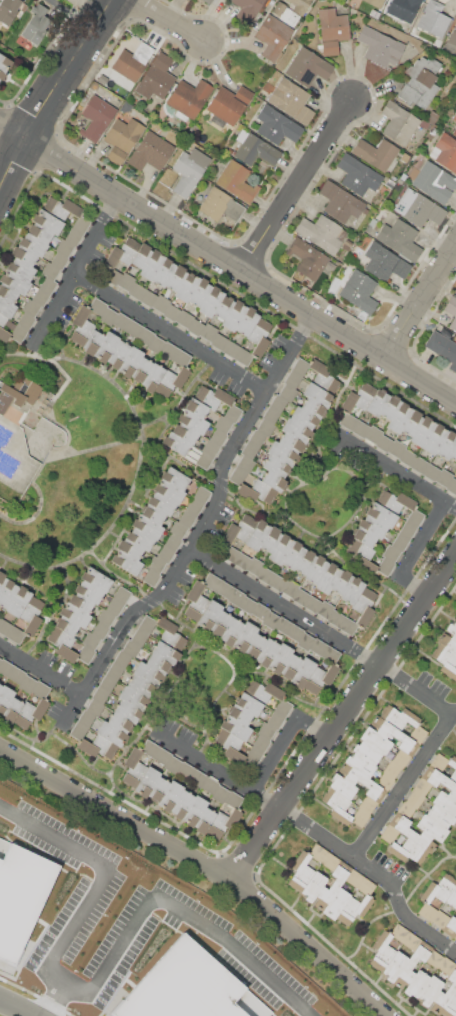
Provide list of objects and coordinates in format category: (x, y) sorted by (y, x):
building: (207, 1)
building: (376, 2)
building: (300, 5)
building: (24, 7)
building: (279, 8)
building: (247, 9)
building: (403, 9)
building: (9, 10)
building: (385, 15)
building: (433, 19)
road: (171, 20)
building: (37, 24)
building: (332, 30)
building: (452, 35)
building: (273, 37)
building: (380, 47)
building: (132, 61)
building: (4, 64)
building: (308, 67)
building: (156, 77)
building: (101, 78)
building: (420, 83)
building: (120, 90)
road: (54, 93)
building: (455, 97)
building: (189, 98)
building: (292, 101)
building: (228, 105)
building: (126, 106)
building: (431, 117)
building: (454, 117)
building: (96, 118)
building: (399, 123)
building: (276, 125)
building: (454, 130)
building: (121, 139)
building: (255, 149)
building: (151, 151)
building: (445, 152)
building: (376, 153)
building: (189, 170)
building: (357, 174)
building: (403, 176)
building: (236, 181)
building: (434, 182)
building: (389, 183)
road: (298, 185)
building: (340, 202)
building: (220, 205)
building: (61, 208)
building: (420, 208)
building: (365, 211)
building: (47, 221)
building: (81, 223)
building: (370, 224)
building: (39, 232)
building: (320, 232)
building: (73, 237)
building: (400, 239)
building: (32, 244)
building: (64, 247)
building: (123, 252)
building: (23, 255)
building: (141, 255)
building: (308, 258)
building: (59, 260)
road: (227, 261)
building: (384, 262)
building: (152, 265)
building: (20, 268)
building: (50, 270)
building: (164, 271)
building: (112, 276)
building: (176, 277)
building: (126, 281)
building: (15, 282)
building: (47, 285)
building: (186, 287)
building: (135, 290)
building: (359, 291)
building: (199, 292)
building: (455, 292)
building: (8, 293)
building: (40, 297)
building: (148, 298)
building: (211, 301)
building: (161, 303)
road: (420, 304)
building: (98, 306)
building: (6, 307)
building: (30, 307)
road: (54, 307)
building: (224, 307)
road: (135, 308)
building: (451, 310)
building: (171, 312)
building: (234, 315)
building: (108, 316)
building: (184, 318)
building: (26, 320)
building: (121, 321)
building: (247, 321)
building: (81, 326)
building: (195, 327)
building: (133, 328)
building: (3, 329)
building: (18, 332)
building: (208, 332)
building: (145, 336)
building: (259, 336)
building: (218, 341)
building: (93, 342)
building: (156, 344)
building: (105, 346)
building: (442, 347)
building: (169, 349)
building: (230, 349)
building: (118, 354)
building: (243, 356)
building: (182, 357)
building: (130, 362)
building: (300, 367)
building: (140, 370)
building: (152, 377)
building: (324, 377)
building: (292, 379)
building: (170, 381)
building: (287, 392)
building: (18, 393)
building: (318, 394)
building: (213, 397)
building: (358, 397)
building: (377, 401)
building: (278, 403)
building: (195, 407)
building: (390, 407)
building: (313, 408)
building: (233, 413)
building: (271, 415)
building: (303, 418)
building: (400, 418)
building: (193, 421)
building: (348, 421)
building: (412, 423)
building: (223, 424)
building: (265, 427)
building: (361, 429)
building: (296, 430)
building: (423, 431)
building: (185, 433)
building: (374, 434)
building: (218, 437)
building: (257, 438)
building: (435, 439)
building: (291, 443)
building: (384, 443)
building: (447, 445)
building: (181, 446)
building: (210, 448)
building: (396, 448)
building: (249, 450)
building: (282, 453)
building: (453, 454)
building: (407, 457)
building: (204, 460)
building: (246, 463)
building: (419, 464)
building: (276, 466)
road: (394, 468)
building: (431, 472)
building: (238, 475)
building: (444, 477)
building: (175, 478)
building: (274, 481)
building: (451, 486)
building: (169, 491)
building: (256, 491)
building: (201, 494)
building: (395, 501)
building: (161, 503)
building: (194, 506)
building: (153, 514)
building: (381, 514)
building: (187, 518)
building: (415, 518)
building: (372, 526)
building: (147, 527)
building: (178, 529)
building: (240, 529)
road: (204, 530)
building: (407, 530)
building: (258, 535)
building: (364, 536)
building: (140, 539)
building: (271, 540)
building: (172, 542)
building: (399, 542)
building: (129, 548)
building: (280, 549)
road: (413, 549)
building: (390, 552)
building: (229, 553)
building: (165, 554)
building: (293, 555)
building: (362, 555)
building: (241, 561)
building: (126, 562)
building: (305, 562)
building: (156, 565)
building: (254, 566)
building: (385, 566)
building: (316, 570)
building: (265, 575)
building: (151, 578)
building: (328, 578)
building: (96, 579)
building: (2, 581)
building: (212, 581)
building: (277, 582)
building: (341, 582)
building: (289, 588)
building: (224, 589)
building: (352, 590)
building: (89, 591)
building: (7, 592)
building: (122, 595)
building: (236, 597)
building: (300, 597)
building: (19, 601)
building: (196, 601)
building: (81, 602)
building: (312, 604)
building: (247, 605)
building: (114, 607)
road: (287, 607)
building: (364, 607)
building: (325, 609)
building: (260, 610)
building: (75, 614)
building: (31, 615)
building: (209, 615)
building: (105, 617)
building: (0, 618)
building: (270, 619)
building: (336, 619)
building: (220, 623)
building: (147, 624)
building: (66, 625)
building: (283, 625)
building: (348, 626)
building: (5, 627)
building: (451, 628)
building: (100, 630)
building: (231, 631)
building: (295, 632)
building: (170, 634)
building: (15, 635)
building: (244, 636)
building: (139, 637)
building: (90, 640)
building: (305, 642)
building: (448, 642)
building: (62, 643)
building: (254, 646)
building: (318, 646)
building: (131, 648)
building: (166, 652)
building: (266, 652)
building: (86, 654)
building: (331, 654)
building: (122, 658)
building: (279, 658)
building: (0, 659)
building: (445, 661)
building: (158, 664)
building: (290, 666)
building: (6, 667)
road: (41, 668)
building: (115, 670)
building: (302, 672)
building: (148, 674)
building: (17, 675)
building: (321, 677)
building: (108, 682)
building: (27, 683)
building: (0, 686)
building: (141, 686)
building: (40, 689)
road: (418, 690)
building: (263, 691)
building: (100, 694)
building: (5, 697)
building: (132, 698)
building: (248, 704)
building: (95, 707)
building: (283, 708)
building: (11, 710)
building: (126, 711)
building: (30, 712)
building: (238, 714)
building: (398, 717)
building: (86, 718)
road: (343, 719)
building: (275, 720)
building: (120, 723)
building: (235, 728)
building: (78, 730)
building: (266, 730)
building: (111, 733)
building: (417, 734)
building: (394, 736)
road: (285, 740)
building: (375, 740)
building: (261, 743)
building: (97, 746)
building: (149, 747)
building: (230, 747)
building: (367, 751)
building: (161, 755)
building: (254, 755)
building: (400, 758)
building: (439, 761)
building: (173, 764)
building: (360, 764)
building: (133, 767)
building: (452, 767)
building: (391, 769)
building: (185, 770)
building: (197, 777)
building: (146, 781)
building: (362, 782)
building: (384, 782)
building: (209, 785)
building: (342, 786)
road: (407, 786)
building: (422, 786)
building: (158, 789)
building: (452, 792)
building: (220, 794)
building: (170, 795)
building: (233, 799)
building: (414, 799)
building: (181, 804)
building: (366, 805)
building: (337, 806)
building: (405, 809)
building: (194, 810)
building: (440, 816)
building: (359, 817)
building: (204, 820)
building: (223, 822)
road: (309, 825)
building: (432, 827)
building: (389, 833)
building: (412, 833)
building: (409, 851)
building: (318, 852)
building: (330, 861)
road: (205, 864)
building: (300, 871)
building: (353, 877)
building: (332, 885)
building: (313, 886)
building: (365, 886)
building: (439, 888)
building: (451, 898)
building: (336, 903)
building: (354, 908)
building: (427, 912)
building: (440, 919)
building: (450, 927)
building: (398, 932)
building: (455, 936)
building: (411, 941)
building: (382, 952)
building: (433, 958)
building: (411, 964)
building: (446, 965)
building: (394, 966)
road: (95, 981)
building: (416, 984)
building: (429, 990)
building: (444, 993)
road: (53, 998)
building: (450, 1006)
road: (17, 1007)

